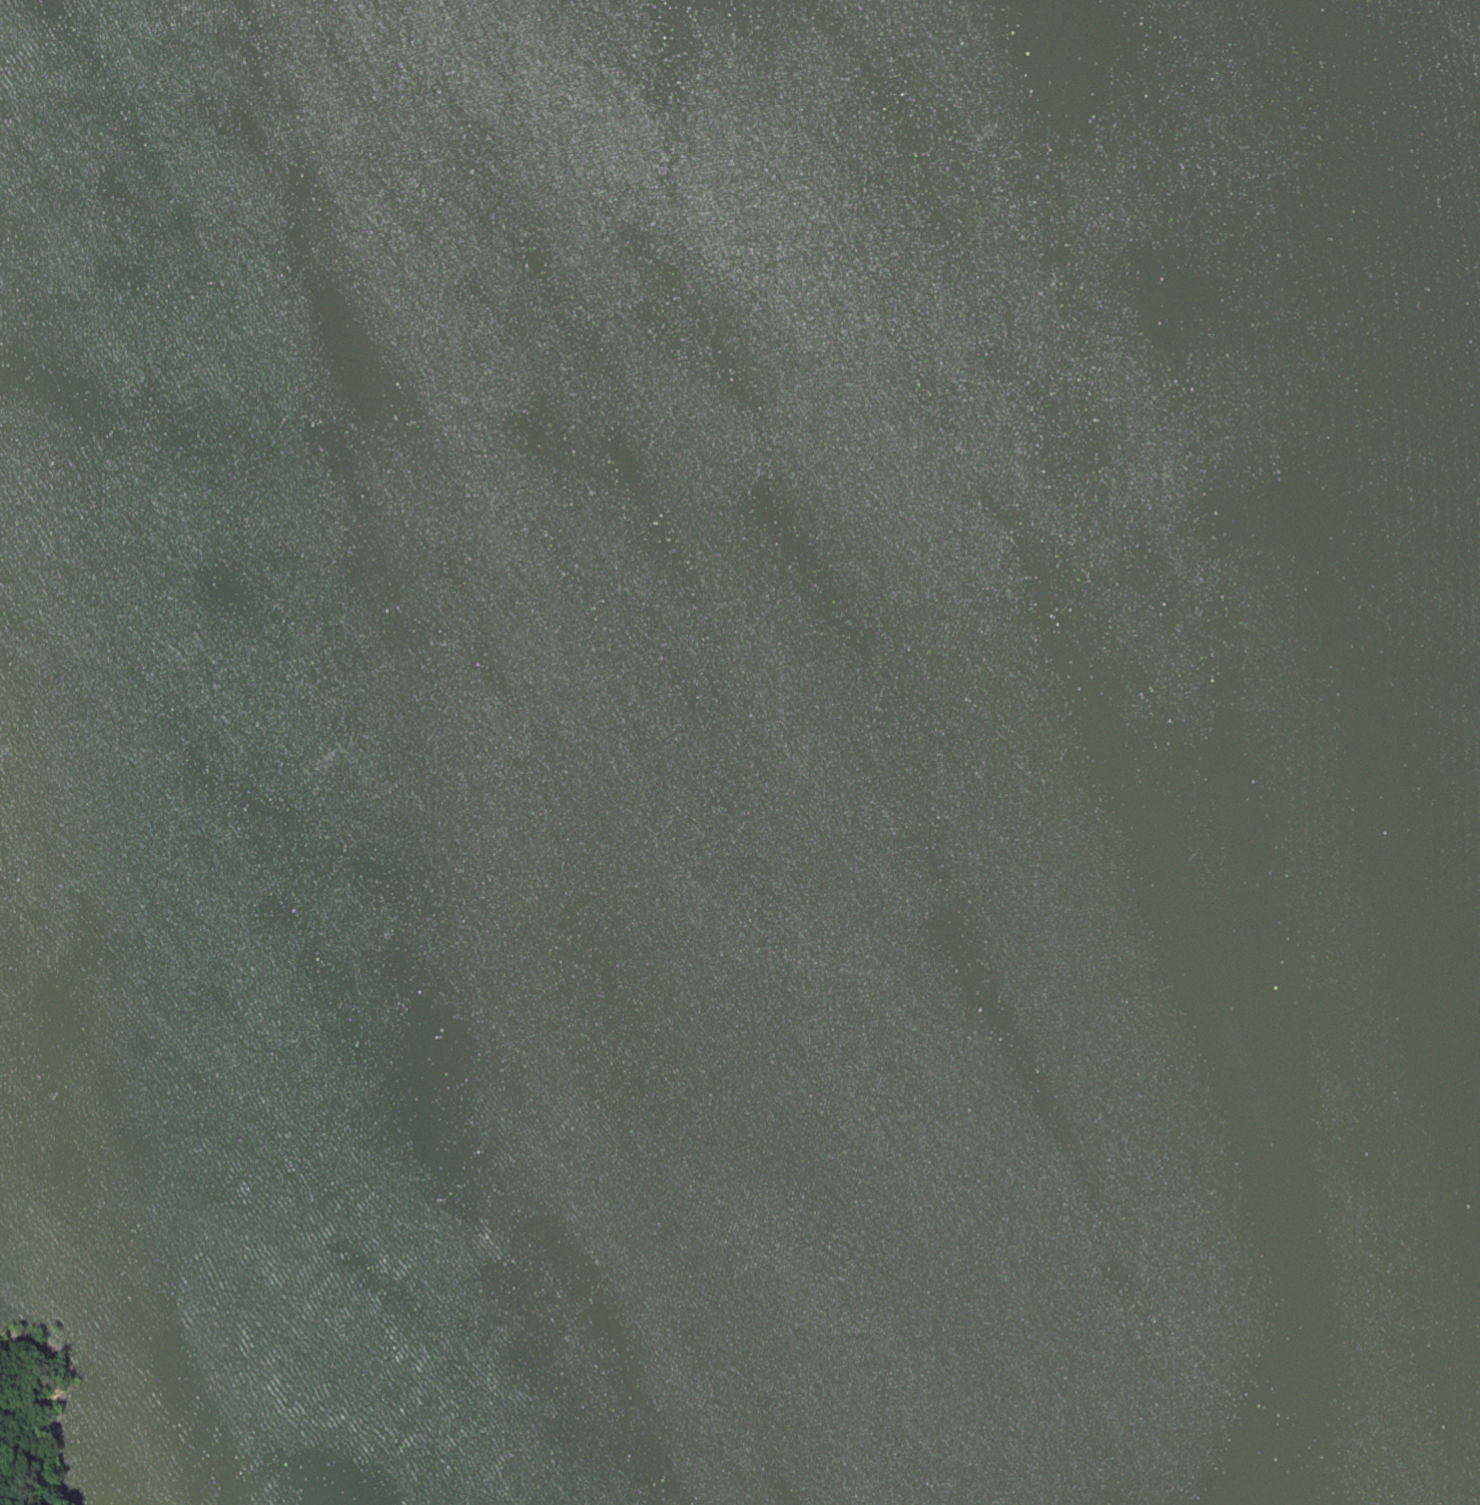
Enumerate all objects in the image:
river: (1425, 132)

